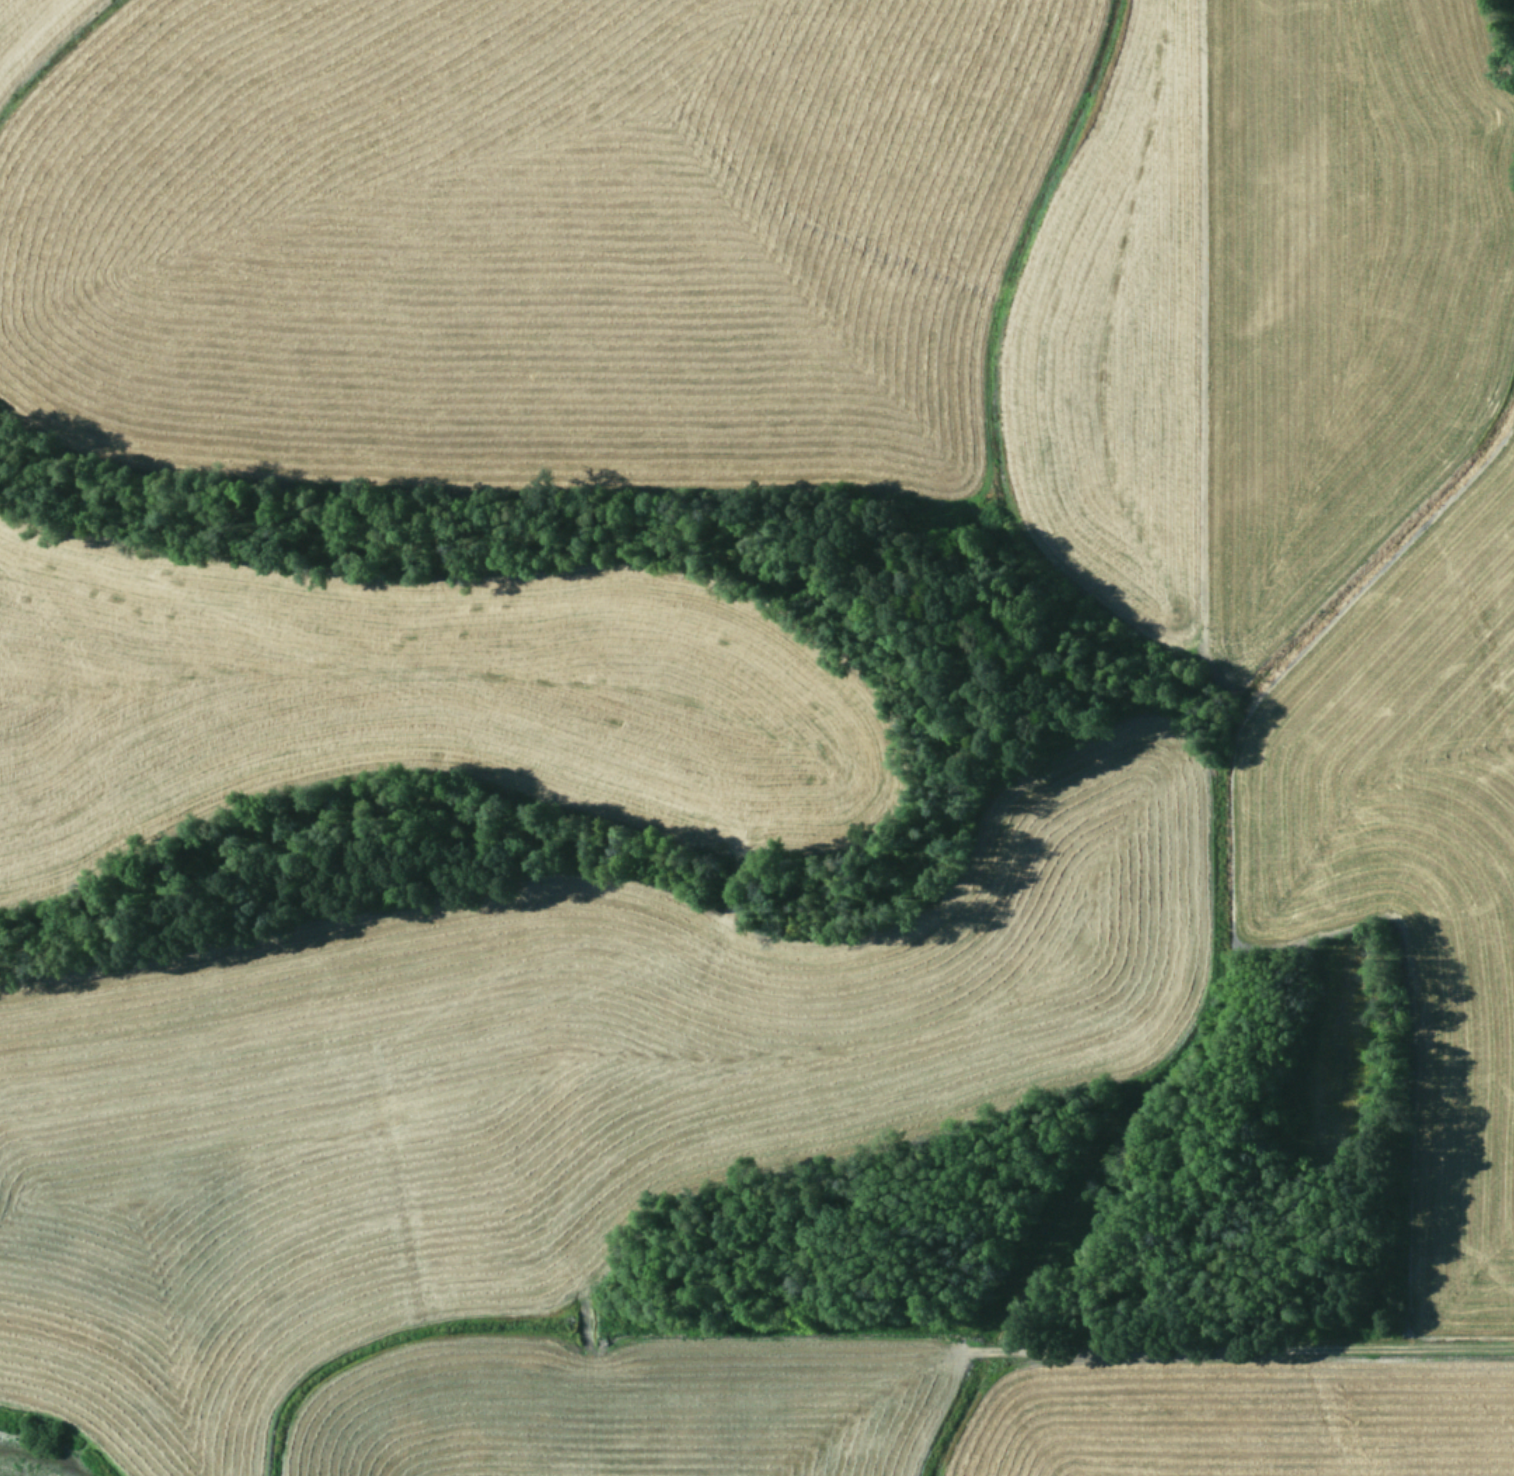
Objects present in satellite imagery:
crop: (757, 738)

